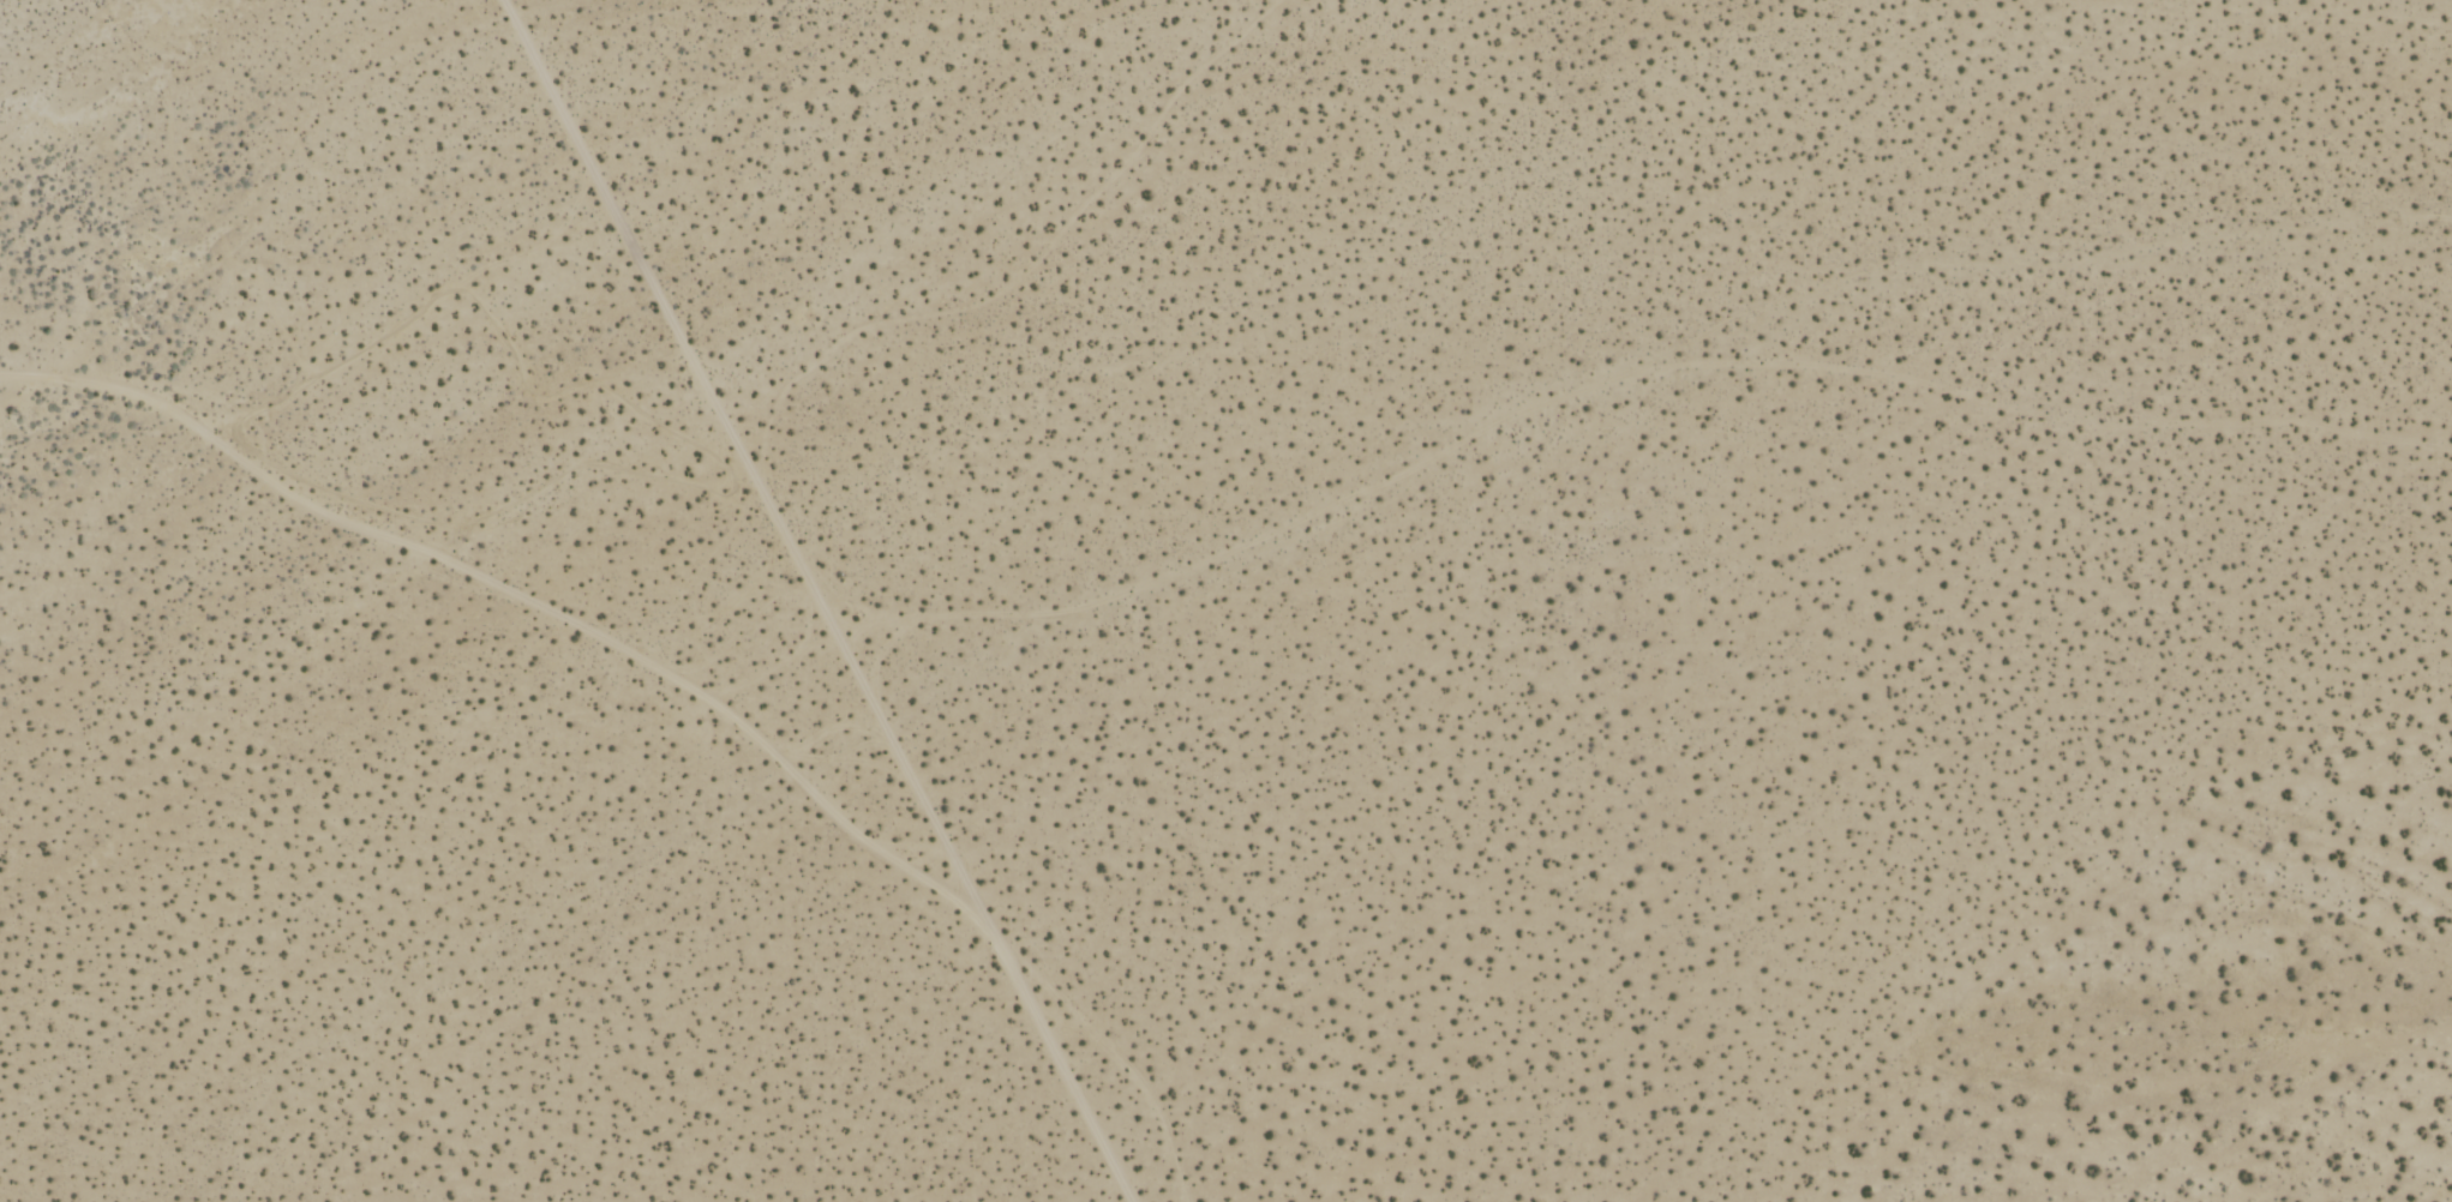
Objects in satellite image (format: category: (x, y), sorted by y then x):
road: (733, 450)
road: (690, 631)

